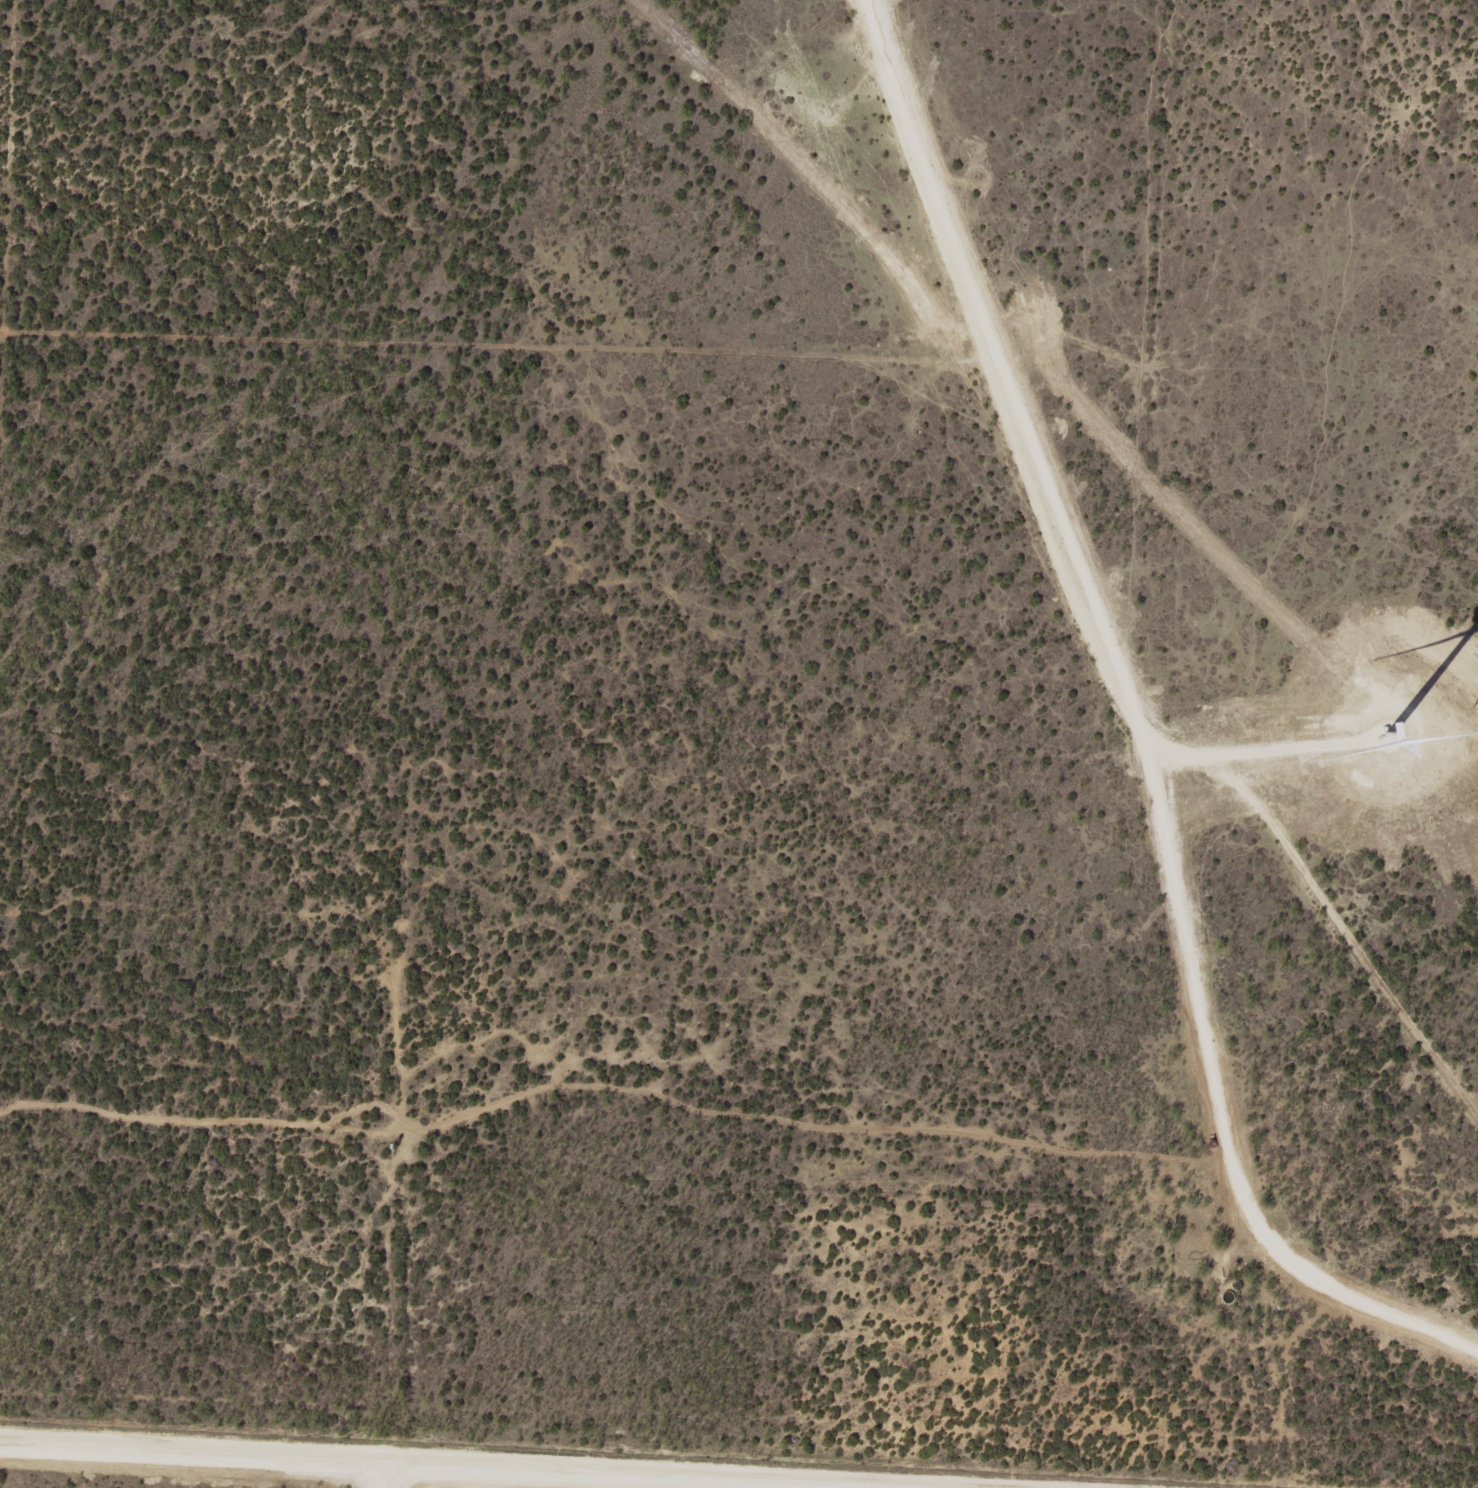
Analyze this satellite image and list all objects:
road: (1086, 609)
wind turbine: (1398, 736)
road: (535, 1459)

